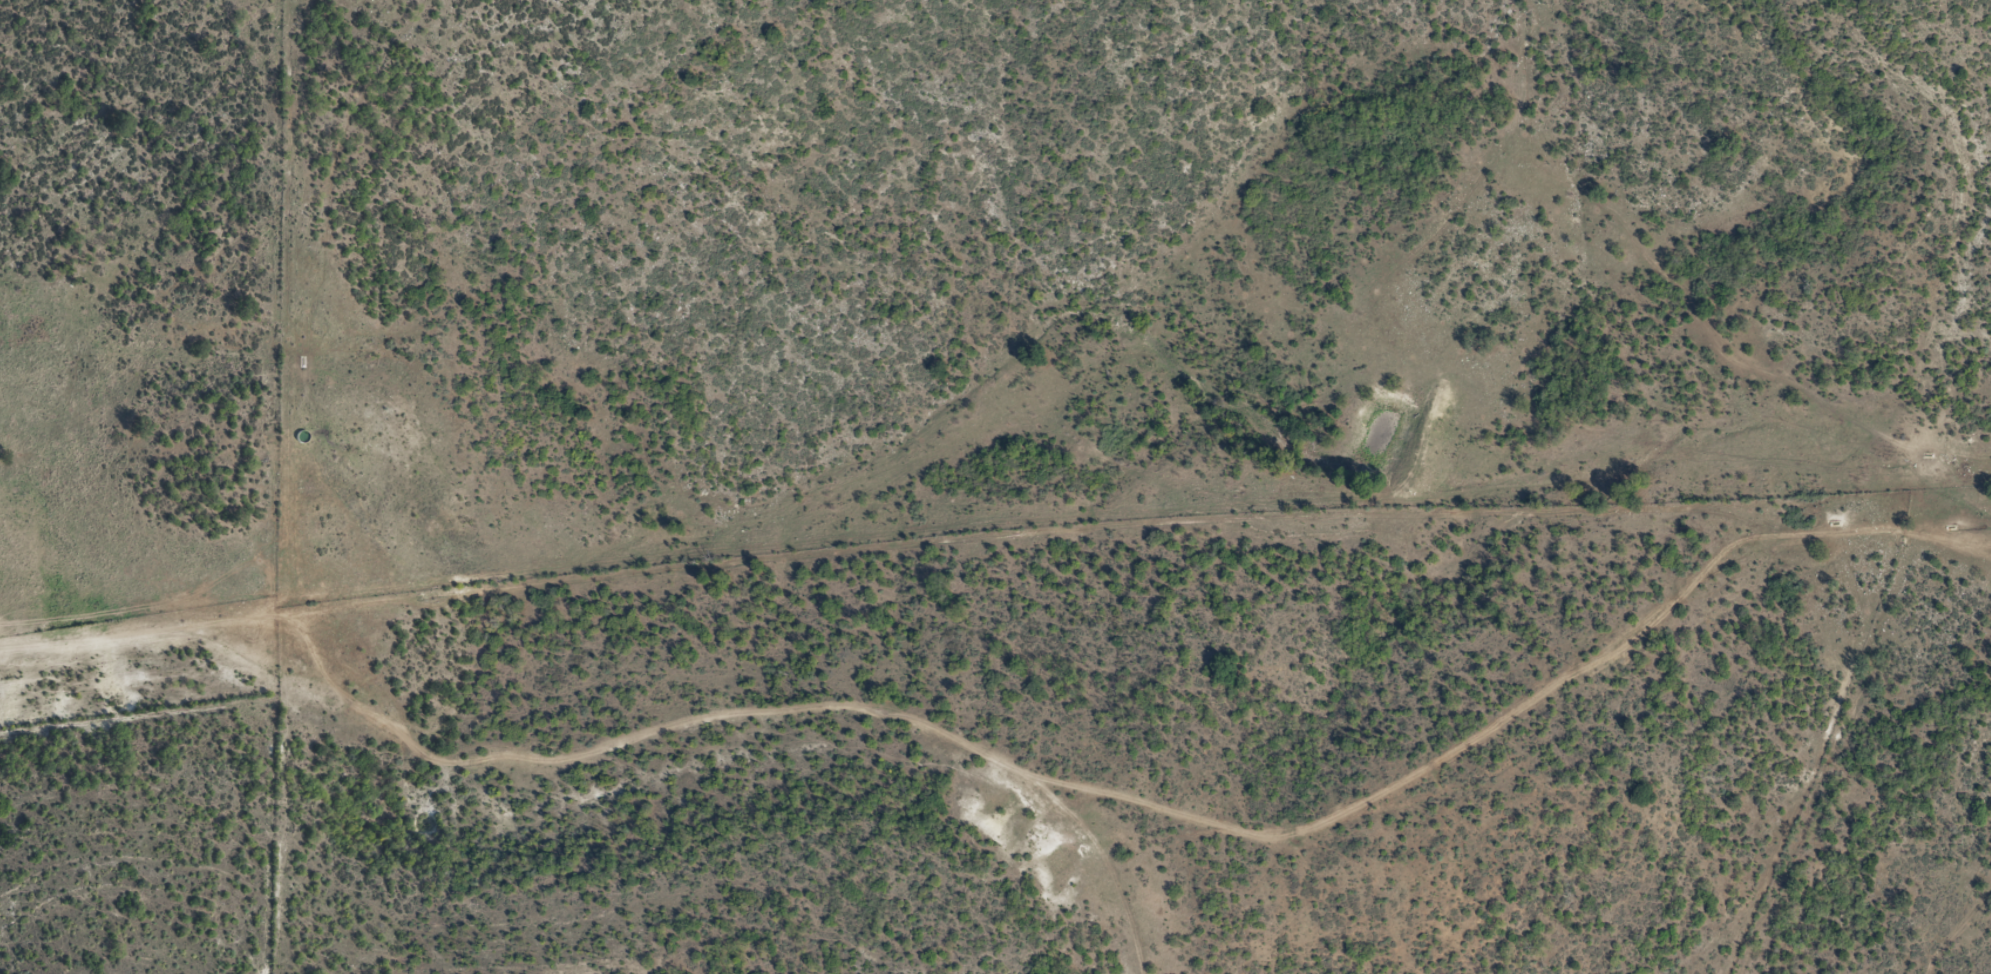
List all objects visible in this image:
road: (1022, 767)

